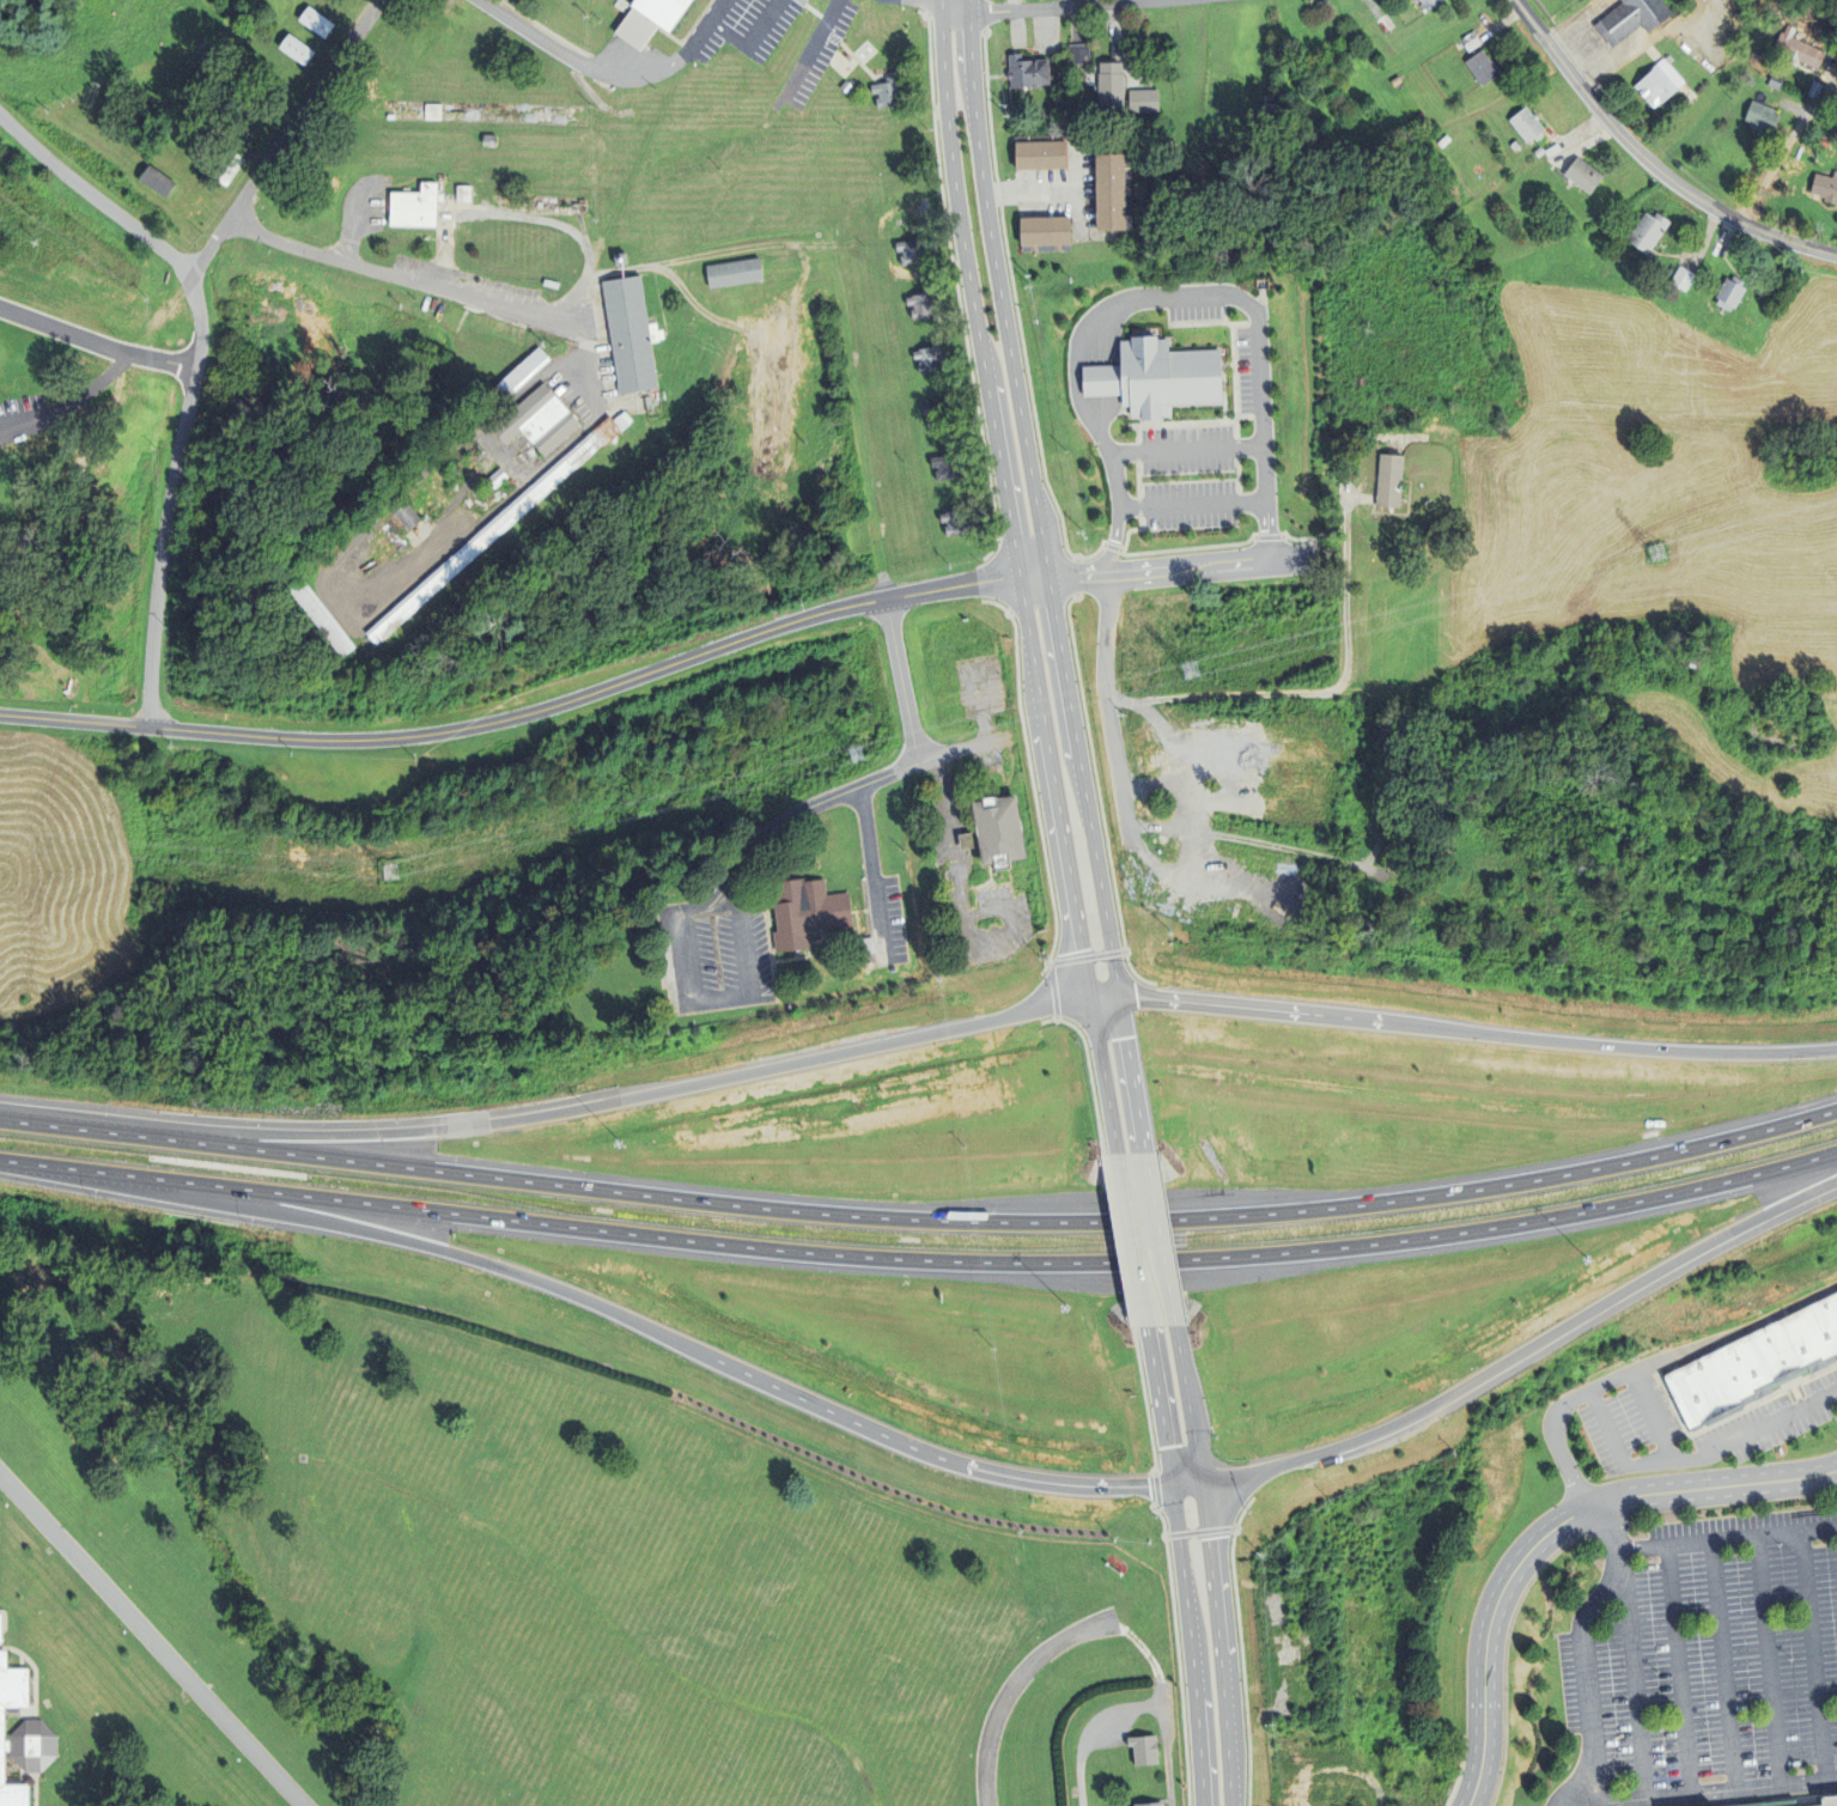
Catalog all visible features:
building: (1429, 2)
road: (1045, 6)
road: (714, 13)
building: (1635, 18)
building: (652, 19)
building: (317, 22)
road: (750, 37)
building: (298, 49)
building: (1807, 51)
building: (1833, 51)
building: (1079, 53)
building: (1485, 67)
road: (594, 68)
building: (1029, 72)
building: (1397, 80)
building: (1777, 80)
building: (1661, 83)
building: (1817, 89)
building: (889, 92)
building: (1126, 92)
building: (433, 111)
building: (1765, 116)
building: (1423, 117)
building: (1531, 124)
road: (287, 139)
building: (491, 140)
building: (1516, 145)
building: (1541, 151)
building: (1044, 152)
building: (706, 154)
road: (1650, 162)
building: (229, 166)
building: (1587, 175)
building: (158, 181)
building: (1827, 188)
building: (463, 193)
building: (1117, 193)
building: (416, 207)
building: (1652, 231)
building: (1048, 235)
building: (913, 251)
building: (622, 259)
building: (736, 272)
building: (1685, 279)
building: (551, 282)
road: (971, 288)
road: (998, 288)
road: (1203, 292)
building: (1733, 294)
building: (924, 304)
road: (531, 314)
building: (632, 334)
building: (931, 360)
road: (109, 372)
building: (522, 373)
building: (1158, 376)
road: (194, 377)
road: (1102, 379)
building: (1087, 385)
building: (941, 413)
parking lot: (1096, 420)
building: (540, 421)
road: (1186, 449)
building: (19, 460)
road: (74, 463)
building: (949, 467)
building: (498, 479)
building: (1393, 479)
road: (1192, 504)
building: (407, 516)
crop: (1677, 518)
building: (959, 522)
building: (494, 531)
road: (1114, 542)
power tower: (1655, 557)
road: (1143, 572)
road: (328, 579)
building: (375, 592)
building: (322, 619)
power tower: (1199, 669)
road: (1253, 699)
road: (517, 716)
parking lot: (987, 759)
road: (893, 772)
building: (1410, 778)
power tower: (768, 779)
road: (1082, 784)
road: (1054, 786)
parking lot: (962, 797)
road: (951, 827)
building: (1004, 829)
building: (1421, 837)
building: (972, 839)
parking lot: (972, 859)
road: (872, 872)
power tower: (387, 874)
road: (735, 888)
parking lot: (977, 899)
building: (808, 911)
parking lot: (886, 919)
parking lot: (989, 922)
parking lot: (989, 922)
building: (866, 945)
parking lot: (714, 954)
building: (864, 966)
parking lot: (996, 973)
parking lot: (996, 973)
road: (1015, 973)
traffic signals: (1118, 992)
traffic signals: (1090, 997)
road: (1476, 1033)
road: (1131, 1071)
road: (1103, 1075)
road: (562, 1107)
road: (920, 1218)
road: (1160, 1238)
road: (1131, 1239)
road: (920, 1259)
road: (603, 1309)
road: (1515, 1362)
building: (1754, 1363)
road: (1646, 1366)
parking lot: (1641, 1391)
road: (1652, 1417)
road: (1696, 1458)
building: (1410, 1478)
traffic signals: (1204, 1483)
traffic signals: (1170, 1484)
building: (1446, 1510)
road: (1550, 1531)
building: (1242, 1536)
road: (1727, 1538)
road: (1180, 1564)
road: (1211, 1564)
road: (1613, 1570)
building: (1365, 1623)
road: (148, 1643)
building: (1264, 1649)
road: (1811, 1655)
road: (1766, 1660)
parking lot: (1707, 1664)
road: (1723, 1665)
road: (1678, 1670)
road: (1632, 1679)
road: (1011, 1689)
building: (5, 1704)
road: (1588, 1717)
road: (1082, 1728)
road: (1164, 1749)
building: (1140, 1752)
road: (1701, 1792)
building: (1303, 1795)
building: (1827, 1801)
building: (1774, 1804)
building: (1146, 1805)

